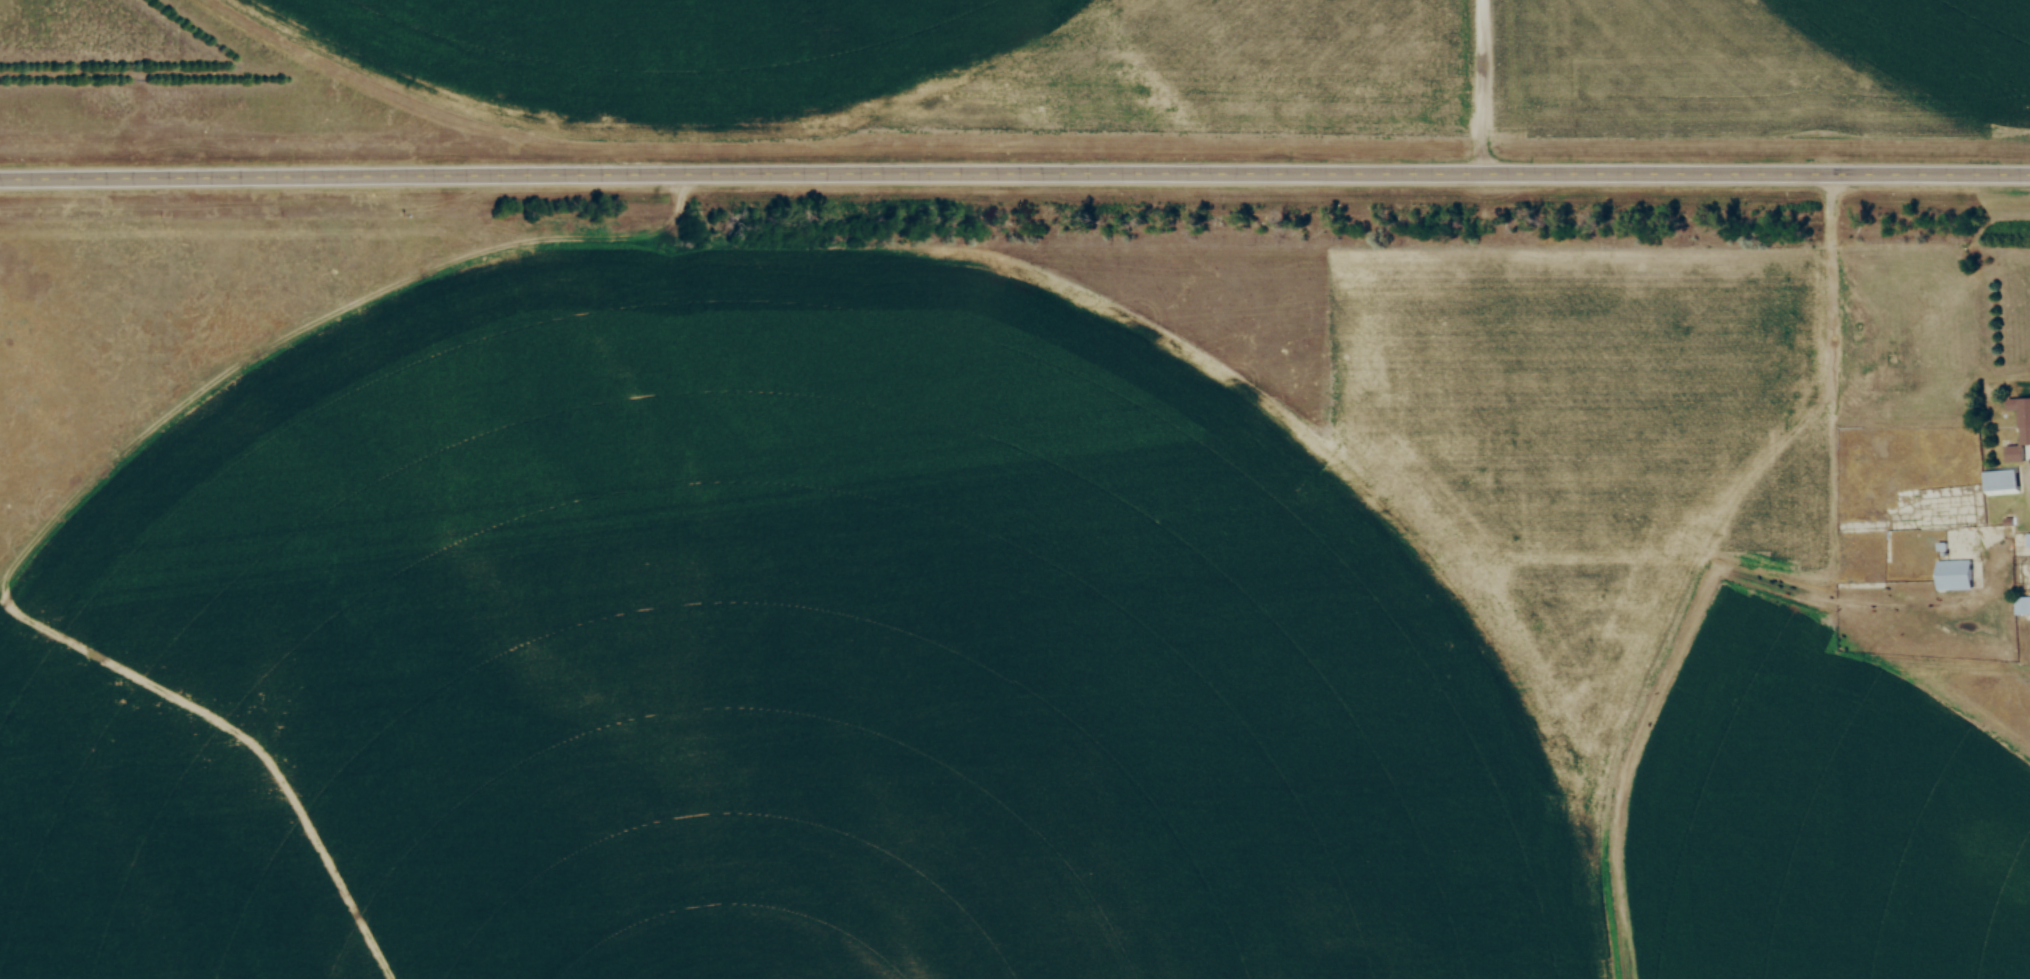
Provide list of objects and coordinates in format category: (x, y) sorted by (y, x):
road: (1014, 176)
building: (2020, 430)
building: (2002, 481)
building: (1955, 574)
building: (2021, 605)

